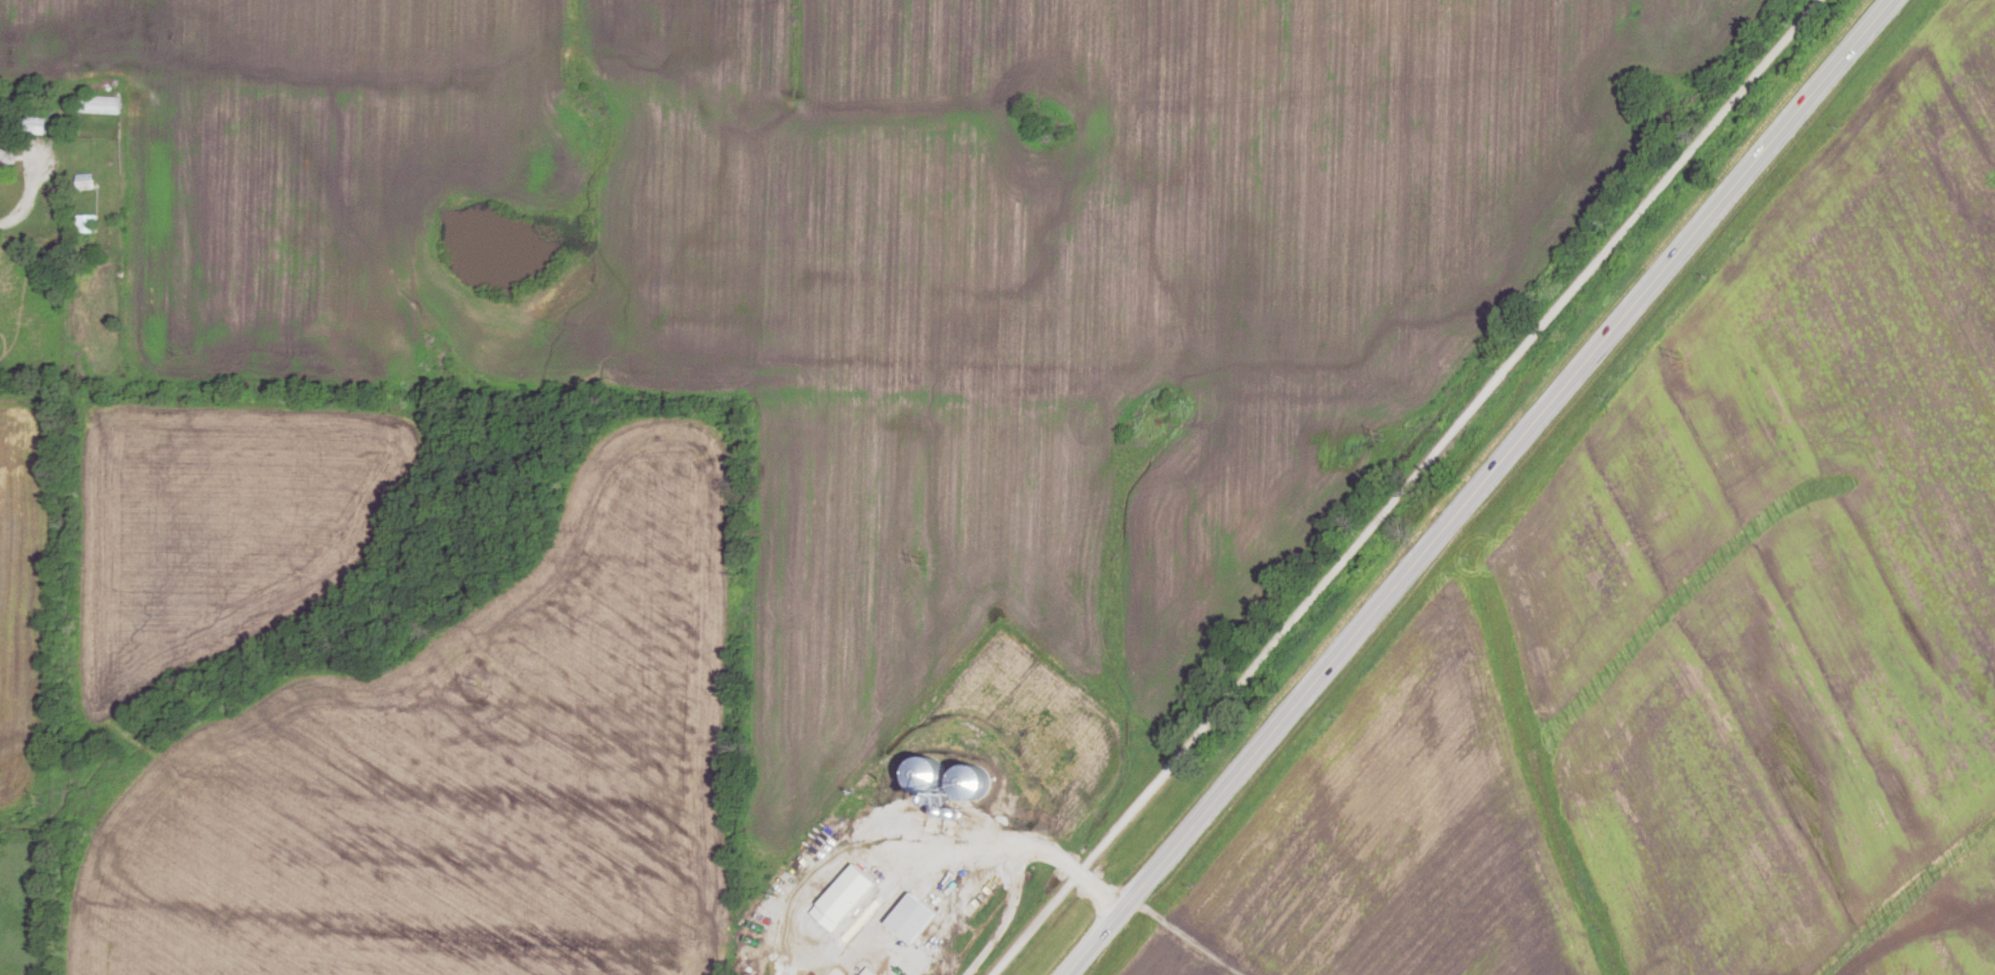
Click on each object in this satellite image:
building: (1857, 33)
building: (105, 103)
building: (40, 124)
building: (56, 192)
road: (26, 197)
building: (92, 222)
power tower: (1678, 355)
power tower: (1386, 436)
road: (1410, 484)
road: (1480, 487)
power tower: (927, 557)
crop: (1786, 558)
power tower: (478, 682)
power tower: (53, 801)
crop: (1389, 828)
road: (973, 848)
building: (853, 897)
building: (922, 917)
building: (877, 971)
building: (852, 974)

